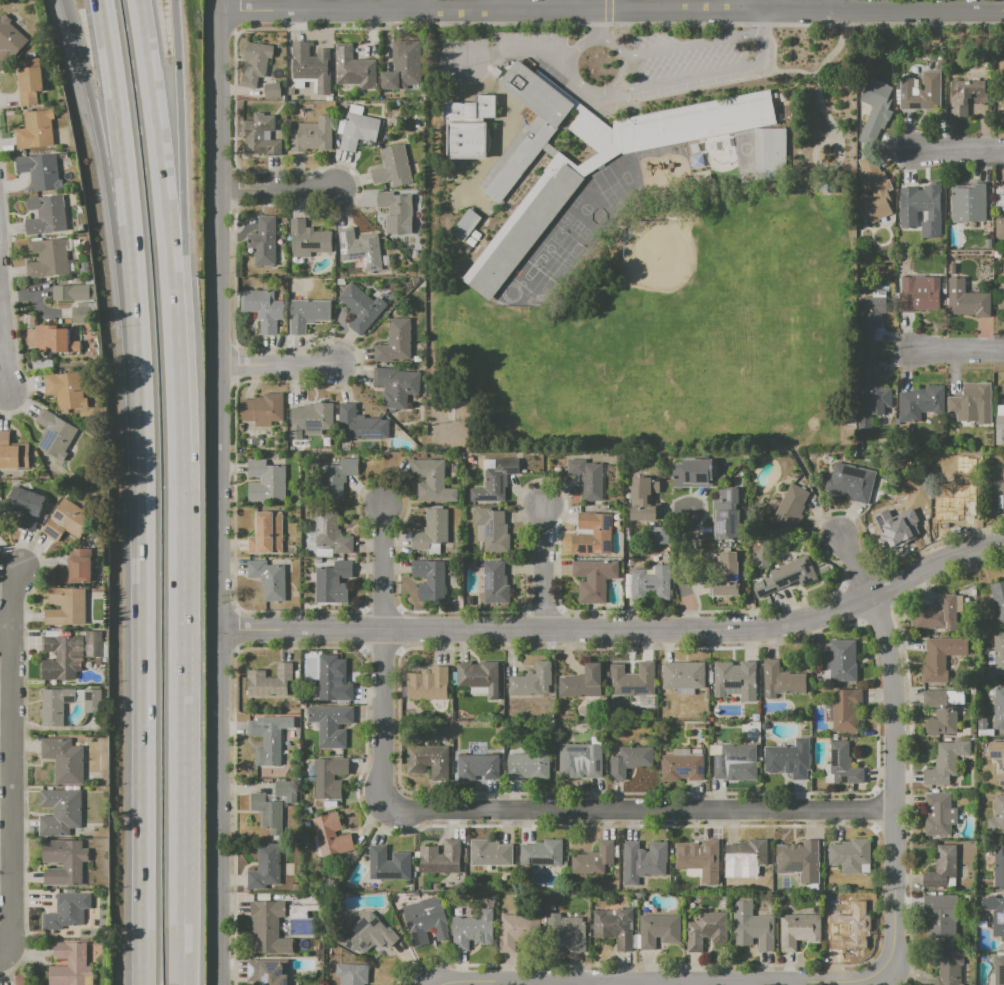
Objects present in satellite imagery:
road: (576, 6)
road: (742, 6)
road: (607, 11)
road: (611, 12)
road: (233, 19)
road: (602, 22)
road: (591, 23)
road: (757, 23)
road: (622, 24)
building: (9, 40)
road: (686, 45)
road: (495, 50)
road: (570, 53)
parking lot: (494, 54)
parking lot: (692, 60)
building: (254, 64)
building: (311, 65)
building: (403, 65)
building: (354, 68)
road: (793, 70)
road: (696, 75)
building: (29, 80)
road: (621, 80)
road: (704, 86)
building: (270, 90)
building: (920, 92)
building: (967, 95)
building: (473, 107)
building: (875, 109)
flagpole: (604, 115)
road: (828, 120)
building: (35, 130)
building: (358, 130)
building: (258, 135)
building: (311, 135)
building: (467, 139)
building: (549, 149)
road: (959, 150)
track: (744, 153)
building: (770, 153)
building: (392, 167)
building: (40, 171)
road: (430, 176)
road: (826, 176)
road: (822, 177)
building: (556, 183)
building: (827, 186)
road: (275, 189)
building: (874, 190)
building: (967, 203)
building: (919, 207)
building: (396, 211)
building: (46, 215)
park: (597, 215)
building: (1000, 224)
building: (464, 225)
road: (115, 227)
road: (169, 227)
road: (185, 227)
building: (307, 240)
building: (263, 242)
building: (359, 248)
park: (549, 248)
park: (657, 256)
building: (48, 258)
building: (1003, 267)
park: (793, 275)
park: (527, 276)
building: (1003, 286)
building: (944, 291)
building: (70, 292)
building: (918, 293)
building: (966, 300)
park: (688, 304)
building: (1001, 304)
building: (361, 307)
building: (262, 309)
building: (308, 314)
building: (83, 315)
building: (869, 316)
building: (54, 339)
building: (394, 343)
road: (4, 349)
road: (960, 351)
road: (277, 365)
park: (643, 375)
building: (396, 386)
building: (67, 389)
building: (871, 399)
building: (919, 403)
building: (972, 404)
building: (263, 409)
building: (453, 412)
building: (311, 419)
building: (360, 424)
building: (999, 428)
building: (54, 434)
building: (4, 436)
building: (641, 446)
building: (14, 455)
building: (691, 473)
building: (586, 478)
building: (337, 479)
building: (496, 480)
building: (265, 481)
building: (432, 481)
building: (852, 482)
building: (1002, 487)
road: (145, 491)
road: (815, 491)
road: (221, 492)
building: (641, 498)
building: (953, 507)
building: (790, 508)
building: (30, 509)
building: (0, 510)
building: (0, 521)
building: (68, 522)
building: (901, 522)
building: (725, 526)
building: (491, 529)
building: (432, 530)
building: (267, 533)
building: (331, 533)
building: (591, 535)
building: (660, 535)
building: (76, 568)
road: (542, 568)
road: (678, 572)
building: (789, 575)
building: (724, 577)
building: (429, 579)
building: (594, 579)
building: (268, 580)
building: (333, 583)
building: (649, 583)
building: (494, 584)
building: (998, 599)
building: (67, 607)
building: (940, 616)
road: (5, 630)
road: (620, 631)
building: (94, 644)
building: (998, 653)
road: (381, 655)
building: (63, 657)
building: (841, 661)
building: (935, 662)
building: (683, 675)
building: (477, 677)
building: (633, 679)
building: (269, 680)
building: (334, 680)
building: (734, 680)
building: (532, 681)
building: (780, 681)
building: (582, 682)
building: (428, 684)
road: (182, 692)
building: (53, 707)
building: (998, 708)
building: (846, 711)
building: (941, 714)
building: (755, 717)
building: (331, 724)
building: (982, 724)
building: (699, 725)
building: (764, 725)
building: (267, 739)
building: (997, 757)
building: (732, 758)
building: (578, 759)
building: (789, 759)
building: (65, 760)
building: (628, 760)
building: (428, 762)
building: (945, 762)
building: (843, 764)
road: (11, 765)
building: (476, 766)
building: (529, 766)
building: (680, 767)
building: (328, 776)
building: (274, 805)
road: (640, 811)
building: (61, 812)
building: (941, 813)
building: (996, 819)
building: (331, 835)
building: (490, 852)
building: (747, 853)
building: (541, 854)
building: (849, 855)
building: (442, 857)
building: (699, 858)
building: (593, 860)
building: (799, 860)
building: (642, 861)
building: (65, 862)
building: (389, 864)
building: (998, 866)
building: (264, 867)
building: (941, 867)
building: (634, 895)
building: (634, 902)
building: (301, 910)
building: (68, 911)
building: (941, 914)
building: (997, 918)
building: (425, 919)
building: (855, 923)
building: (752, 926)
building: (614, 928)
building: (267, 929)
building: (472, 930)
building: (517, 930)
building: (659, 930)
building: (706, 930)
building: (799, 931)
building: (565, 933)
building: (367, 934)
road: (182, 956)
building: (71, 964)
building: (948, 965)
road: (885, 968)
building: (999, 970)
building: (266, 972)
building: (352, 973)
road: (599, 983)

